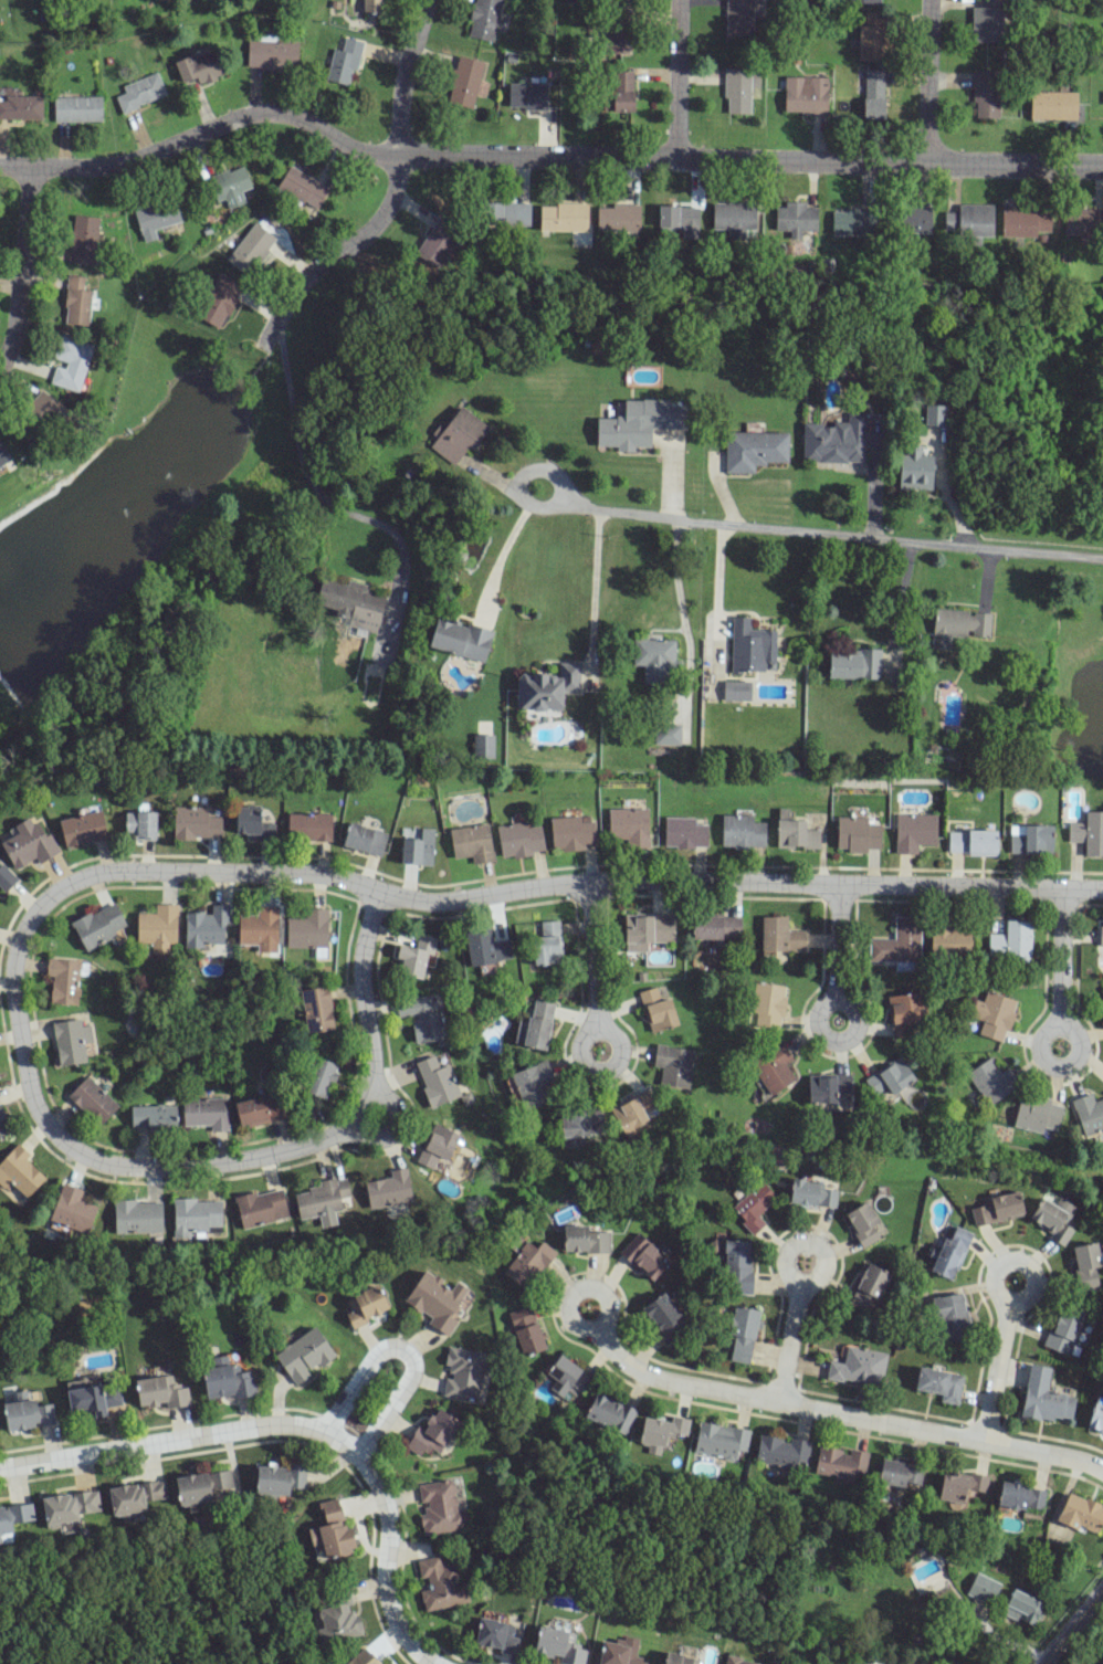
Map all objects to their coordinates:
road: (677, 77)
road: (928, 82)
road: (540, 154)
road: (393, 194)
road: (22, 268)
road: (522, 477)
road: (316, 491)
road: (832, 533)
road: (501, 548)
road: (676, 577)
road: (592, 584)
road: (715, 592)
road: (401, 898)
road: (829, 999)
road: (597, 1020)
road: (1060, 1023)
road: (356, 1116)
road: (393, 1126)
road: (790, 1275)
road: (578, 1289)
road: (1009, 1312)
road: (401, 1350)
road: (843, 1411)
road: (297, 1428)
road: (1072, 1624)

